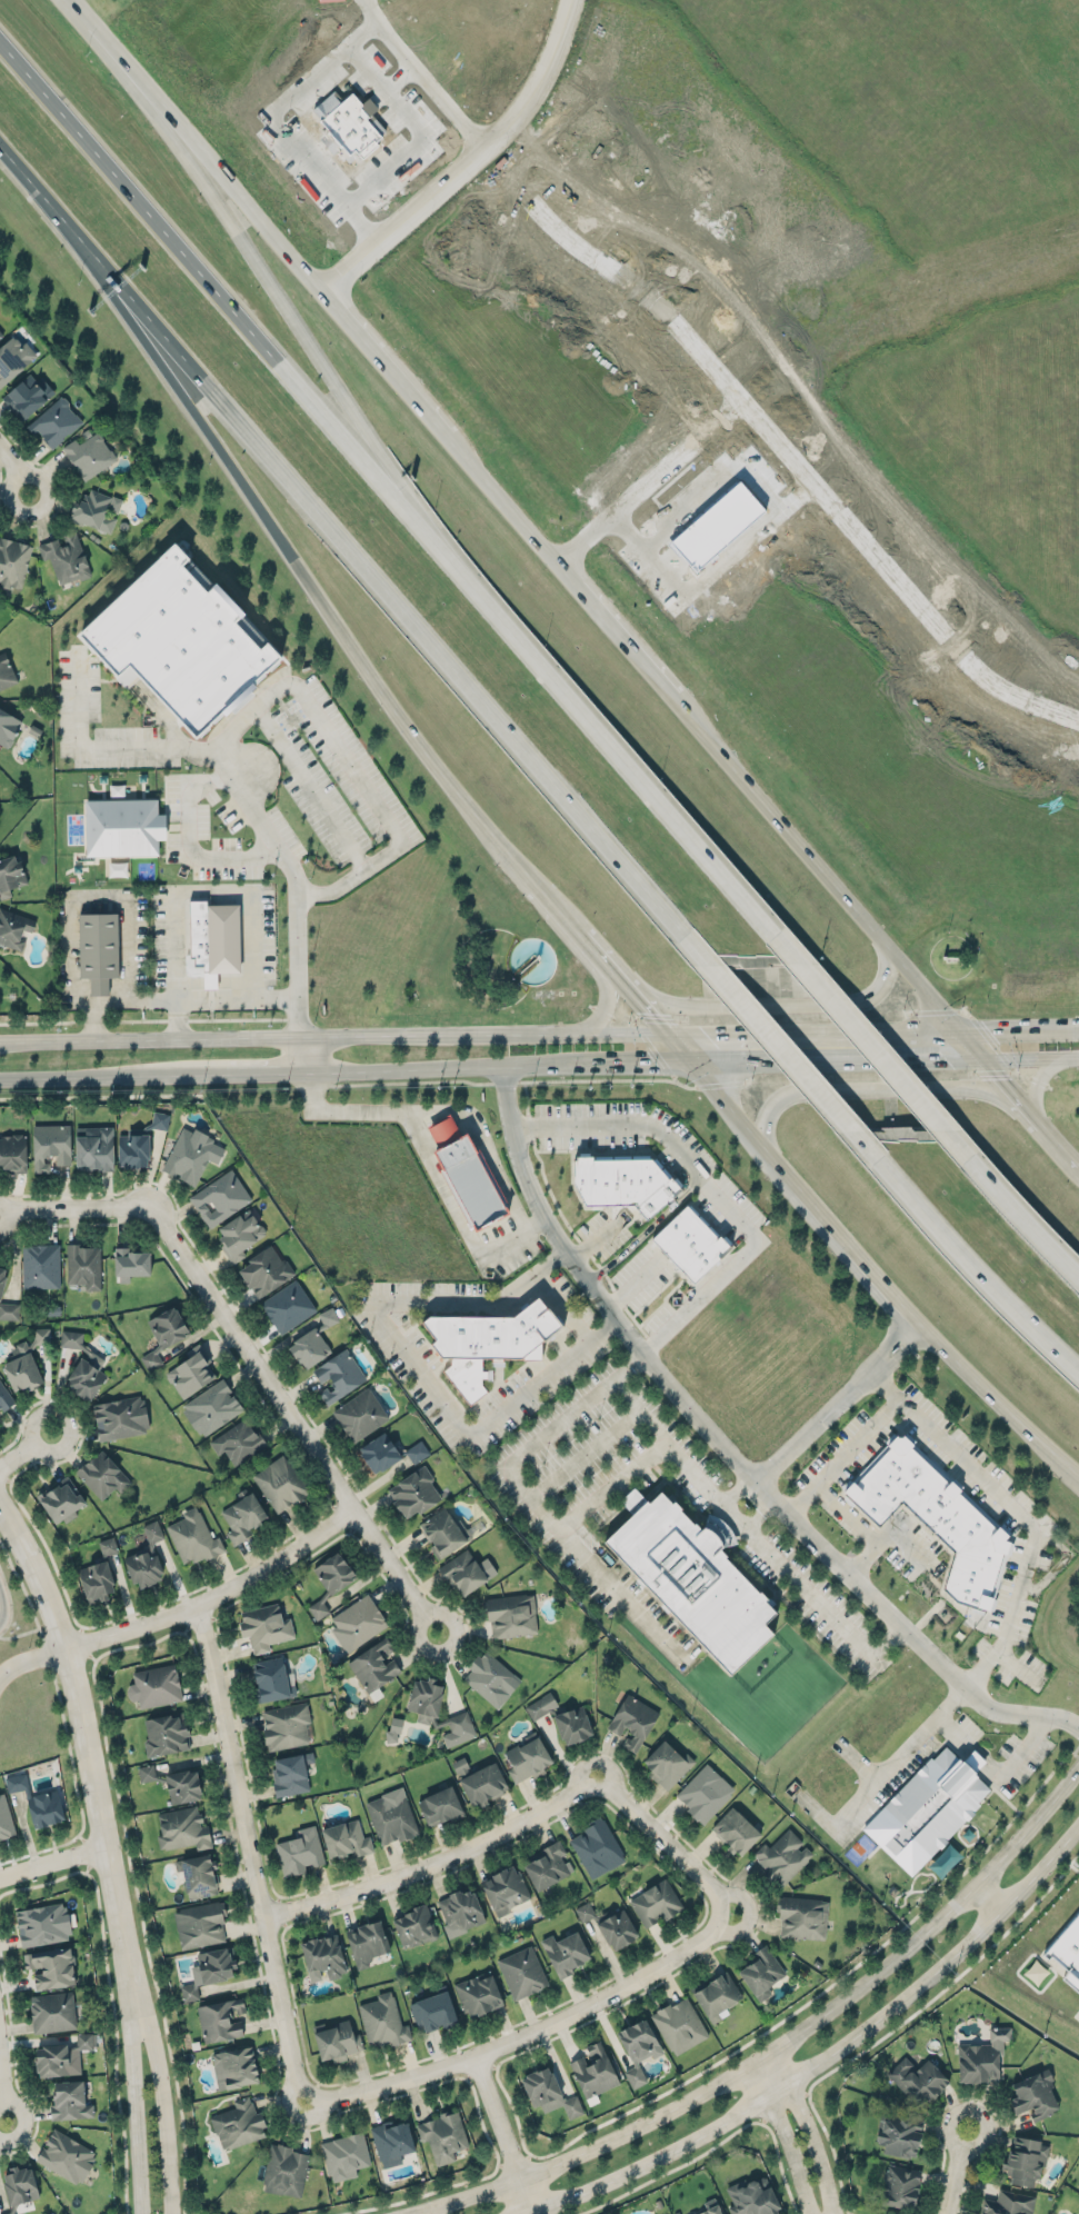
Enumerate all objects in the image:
road: (73, 3)
road: (420, 73)
road: (398, 77)
road: (273, 122)
road: (418, 128)
road: (198, 149)
road: (462, 162)
road: (43, 198)
road: (442, 240)
road: (507, 240)
road: (256, 276)
road: (410, 276)
road: (218, 295)
building: (0, 333)
building: (13, 358)
road: (381, 363)
building: (26, 398)
building: (56, 422)
road: (652, 423)
road: (776, 440)
building: (89, 453)
road: (12, 473)
road: (646, 480)
road: (596, 498)
road: (499, 499)
building: (96, 510)
building: (66, 557)
building: (13, 561)
road: (653, 564)
road: (296, 575)
road: (387, 591)
road: (612, 630)
building: (181, 640)
building: (6, 670)
building: (8, 725)
road: (607, 741)
road: (88, 746)
road: (353, 769)
road: (310, 788)
building: (122, 827)
road: (270, 832)
road: (188, 841)
building: (10, 875)
road: (828, 878)
road: (192, 891)
road: (558, 907)
building: (13, 928)
building: (208, 937)
building: (98, 948)
road: (597, 950)
road: (70, 986)
road: (603, 986)
road: (637, 999)
road: (767, 1003)
road: (92, 1017)
road: (1002, 1021)
traffic signals: (951, 1024)
road: (793, 1028)
traffic signals: (661, 1031)
road: (330, 1033)
road: (785, 1047)
road: (875, 1047)
road: (299, 1051)
road: (1031, 1057)
traffic signals: (985, 1059)
road: (860, 1060)
road: (713, 1061)
traffic signals: (691, 1063)
road: (632, 1064)
road: (436, 1067)
road: (263, 1070)
road: (113, 1074)
road: (1035, 1078)
road: (875, 1087)
road: (1008, 1087)
road: (251, 1089)
building: (160, 1120)
road: (1038, 1120)
building: (50, 1144)
road: (482, 1144)
road: (1061, 1145)
building: (93, 1146)
building: (134, 1148)
building: (13, 1151)
building: (191, 1154)
road: (429, 1156)
building: (467, 1173)
building: (622, 1181)
road: (711, 1187)
building: (219, 1196)
road: (1023, 1218)
building: (241, 1235)
road: (592, 1239)
building: (690, 1241)
road: (862, 1259)
building: (130, 1263)
building: (40, 1264)
building: (83, 1265)
road: (977, 1267)
building: (264, 1269)
building: (1, 1277)
road: (632, 1285)
building: (288, 1305)
road: (561, 1305)
building: (9, 1309)
building: (328, 1316)
building: (163, 1334)
building: (40, 1335)
building: (488, 1340)
building: (309, 1348)
road: (247, 1363)
road: (417, 1365)
building: (82, 1366)
building: (21, 1368)
building: (190, 1370)
building: (339, 1375)
building: (4, 1397)
road: (838, 1400)
building: (211, 1406)
building: (360, 1414)
building: (120, 1416)
building: (238, 1440)
road: (23, 1448)
road: (587, 1449)
road: (731, 1449)
building: (389, 1450)
road: (842, 1454)
building: (101, 1474)
road: (616, 1482)
building: (281, 1483)
road: (740, 1488)
building: (413, 1493)
road: (534, 1497)
building: (60, 1500)
road: (1016, 1509)
road: (762, 1513)
building: (242, 1515)
building: (933, 1516)
road: (863, 1527)
building: (443, 1532)
road: (755, 1532)
building: (193, 1536)
road: (256, 1556)
building: (146, 1557)
building: (462, 1570)
building: (334, 1572)
building: (98, 1573)
building: (691, 1576)
road: (211, 1593)
road: (3, 1605)
road: (456, 1605)
building: (318, 1607)
building: (511, 1614)
building: (358, 1624)
building: (264, 1626)
road: (19, 1634)
road: (192, 1649)
road: (28, 1656)
building: (374, 1664)
building: (491, 1678)
building: (271, 1679)
building: (154, 1685)
building: (426, 1699)
building: (542, 1705)
building: (632, 1719)
building: (572, 1723)
building: (286, 1726)
road: (64, 1727)
building: (459, 1728)
building: (393, 1731)
building: (164, 1734)
road: (86, 1744)
road: (1076, 1746)
road: (897, 1757)
building: (528, 1758)
building: (973, 1759)
building: (666, 1764)
building: (460, 1765)
road: (995, 1769)
building: (291, 1774)
building: (16, 1782)
building: (482, 1782)
building: (174, 1783)
building: (705, 1793)
building: (440, 1806)
building: (44, 1807)
building: (927, 1809)
building: (391, 1816)
building: (6, 1818)
road: (669, 1824)
building: (182, 1828)
building: (735, 1829)
building: (347, 1838)
road: (670, 1839)
building: (597, 1846)
building: (299, 1851)
road: (241, 1855)
building: (782, 1856)
road: (429, 1858)
road: (52, 1863)
building: (547, 1866)
building: (198, 1875)
road: (37, 1883)
building: (506, 1888)
road: (993, 1895)
building: (655, 1903)
building: (461, 1908)
road: (273, 1914)
building: (802, 1916)
building: (42, 1923)
building: (200, 1923)
building: (610, 1924)
building: (416, 1925)
building: (367, 1941)
building: (1068, 1948)
road: (655, 1952)
building: (565, 1953)
building: (322, 1956)
building: (51, 1966)
building: (210, 1968)
building: (522, 1972)
building: (761, 1972)
building: (478, 1994)
building: (717, 1996)
building: (432, 2011)
building: (52, 2012)
road: (790, 2014)
building: (221, 2019)
building: (382, 2021)
road: (901, 2023)
building: (679, 2025)
road: (527, 2033)
building: (337, 2041)
road: (786, 2043)
building: (637, 2046)
building: (60, 2054)
road: (830, 2056)
building: (981, 2056)
building: (234, 2067)
building: (593, 2070)
road: (14, 2071)
road: (772, 2075)
building: (917, 2078)
road: (3, 2086)
building: (549, 2092)
road: (972, 2094)
building: (1033, 2095)
road: (163, 2098)
building: (70, 2100)
road: (476, 2100)
road: (134, 2101)
building: (238, 2124)
building: (899, 2133)
road: (503, 2134)
building: (443, 2135)
building: (392, 2142)
road: (816, 2147)
building: (344, 2153)
road: (791, 2153)
building: (66, 2156)
building: (1025, 2160)
road: (687, 2161)
road: (513, 2163)
road: (781, 2166)
building: (284, 2170)
road: (951, 2173)
building: (19, 2184)
building: (900, 2186)
road: (430, 2191)
building: (751, 2197)
building: (1008, 2203)
building: (709, 2207)

